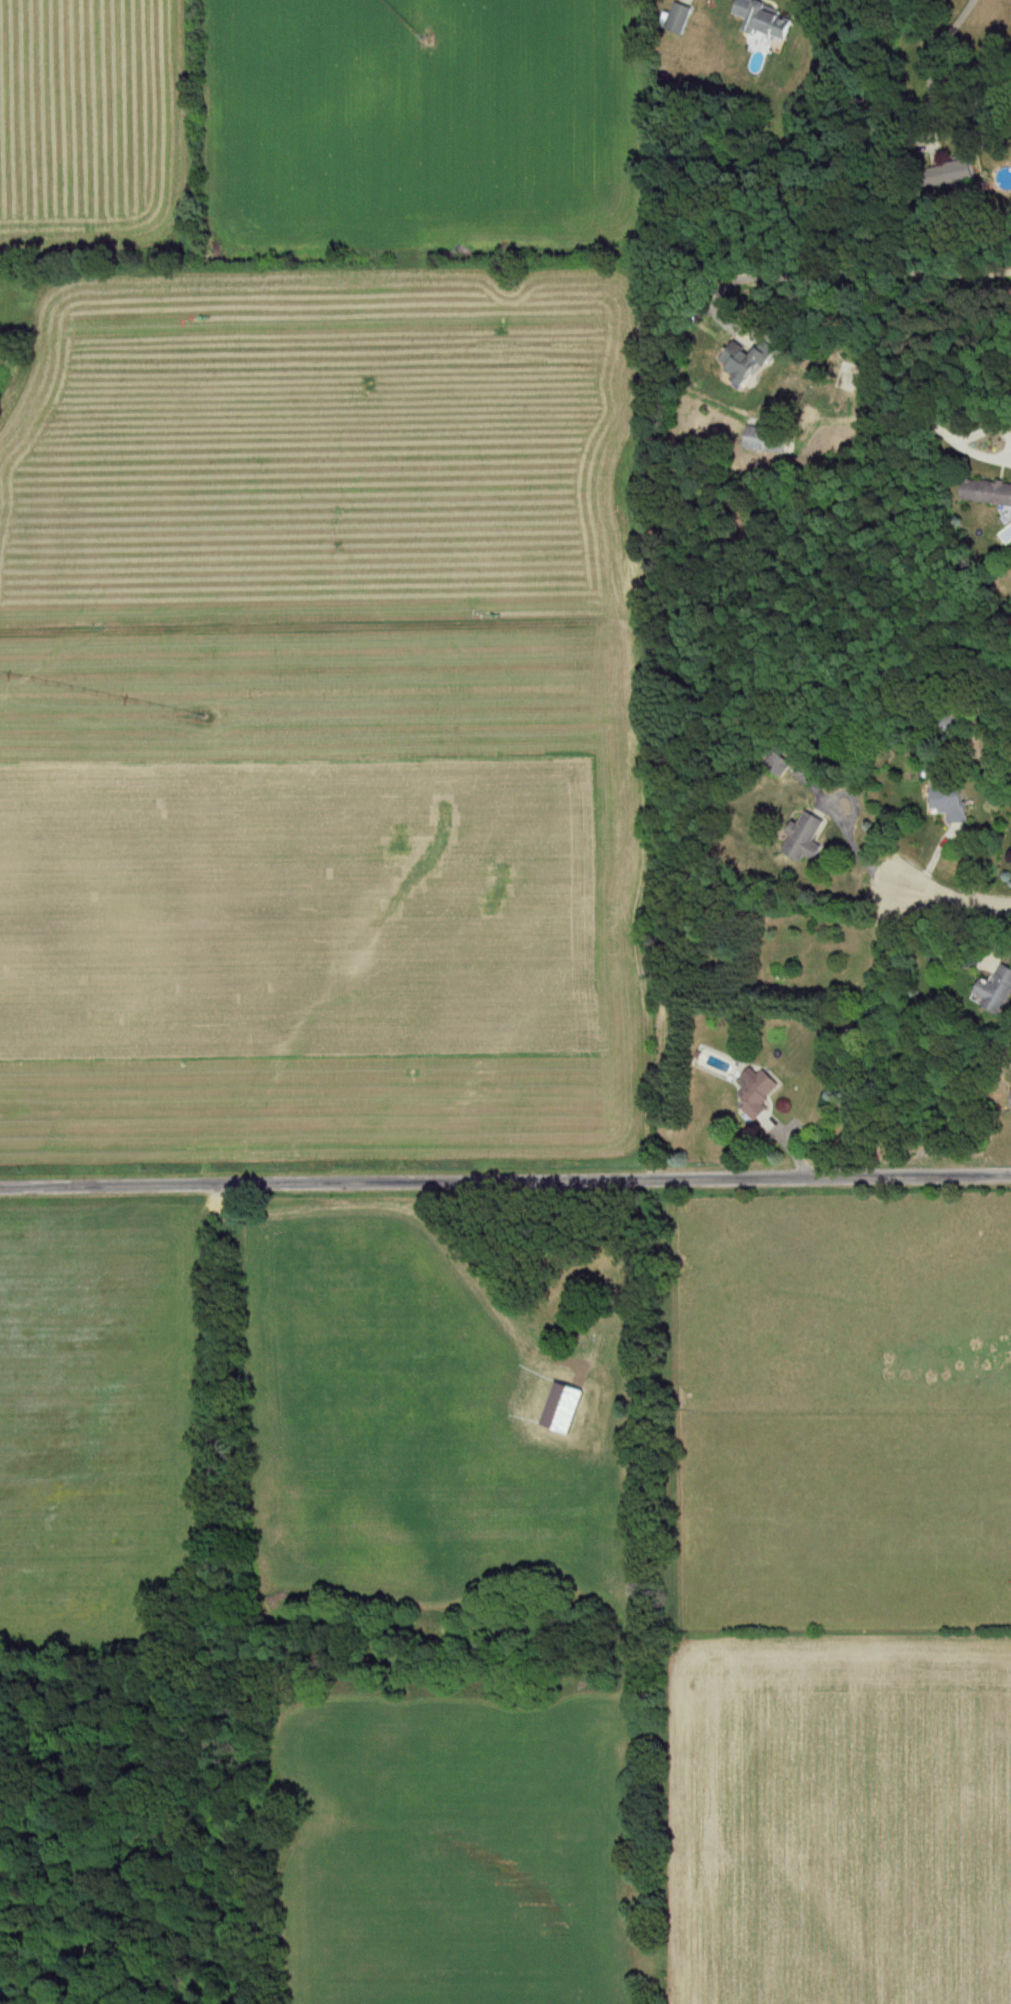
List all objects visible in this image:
building: (679, 18)
building: (767, 19)
road: (934, 69)
building: (953, 173)
road: (880, 278)
building: (746, 362)
building: (767, 440)
building: (989, 492)
building: (950, 801)
building: (807, 838)
road: (856, 858)
road: (954, 899)
building: (996, 991)
building: (760, 1094)
road: (505, 1185)

